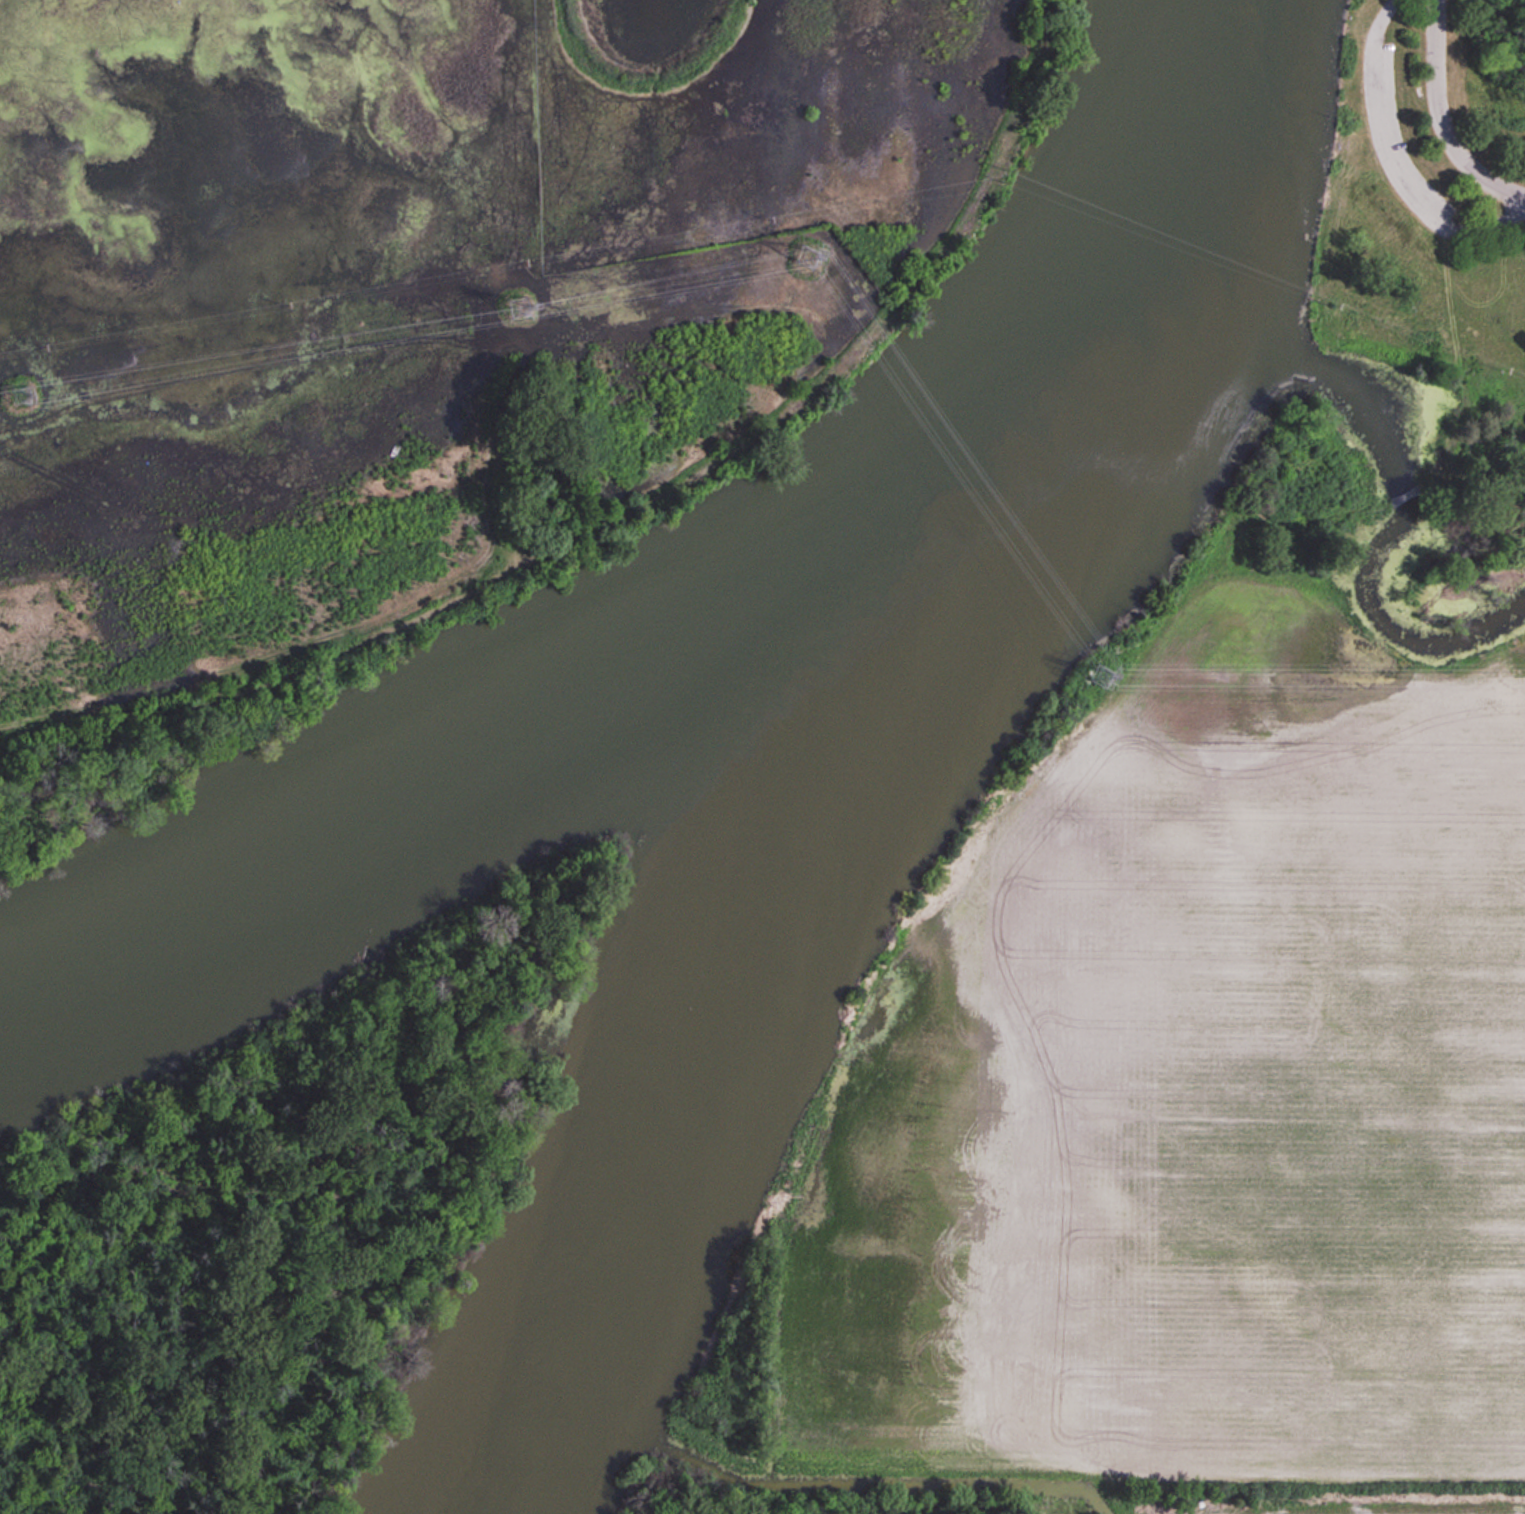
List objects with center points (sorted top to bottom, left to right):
road: (1388, 9)
road: (1440, 120)
parking lot: (1398, 140)
road: (1389, 141)
road: (1496, 221)
power tower: (809, 257)
power tower: (518, 308)
park: (1420, 315)
river: (1096, 367)
power tower: (19, 396)
power tower: (1102, 677)
river: (412, 833)
river: (685, 1108)

